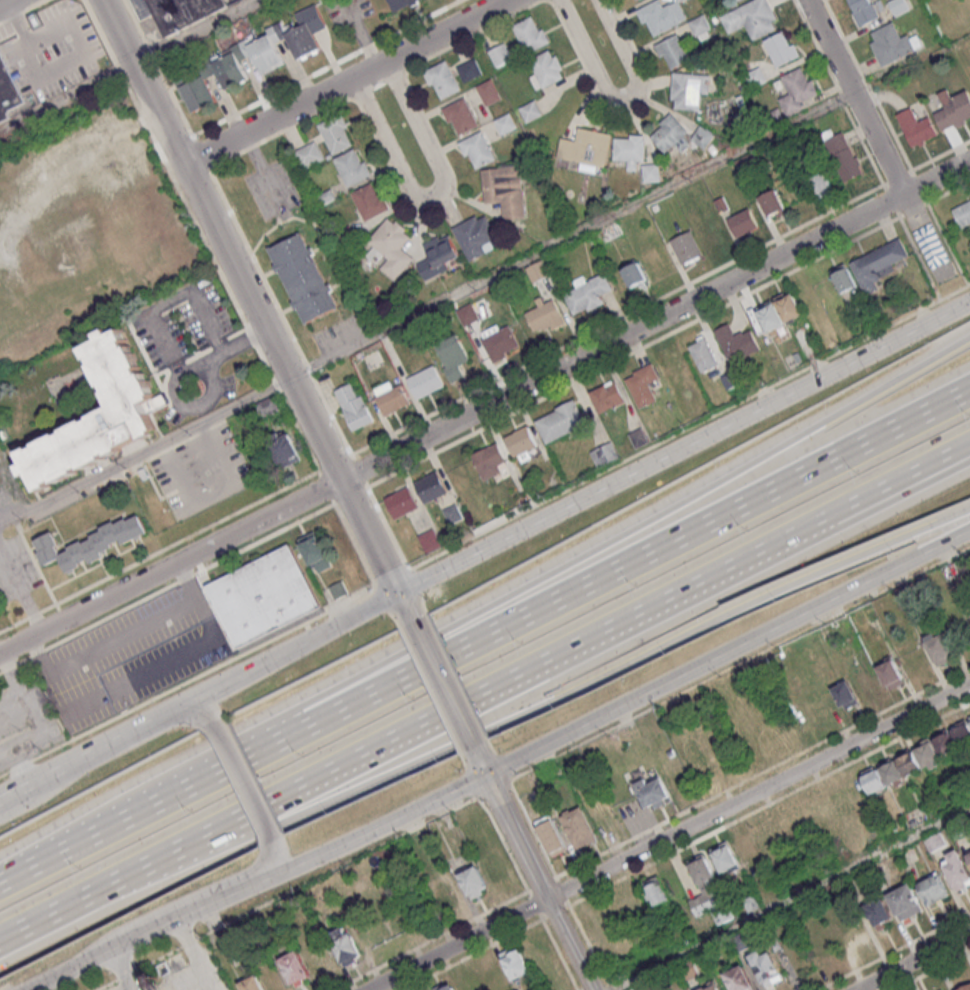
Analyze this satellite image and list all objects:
building: (735, 0)
road: (4, 2)
building: (399, 3)
building: (898, 6)
building: (862, 11)
building: (181, 12)
building: (662, 15)
building: (756, 18)
park: (952, 18)
building: (699, 26)
road: (196, 32)
building: (531, 33)
building: (892, 44)
building: (270, 47)
building: (781, 48)
building: (673, 52)
building: (502, 54)
building: (548, 67)
building: (472, 70)
building: (755, 77)
building: (444, 78)
road: (346, 82)
building: (800, 85)
building: (689, 90)
building: (197, 91)
building: (490, 92)
building: (8, 94)
road: (66, 97)
road: (622, 99)
building: (953, 109)
building: (532, 111)
road: (863, 112)
building: (463, 115)
building: (507, 123)
building: (917, 127)
building: (337, 132)
building: (670, 137)
building: (585, 147)
building: (479, 148)
building: (629, 151)
building: (308, 154)
building: (843, 156)
building: (354, 166)
road: (71, 167)
road: (261, 169)
building: (650, 173)
building: (820, 183)
building: (506, 189)
road: (434, 195)
building: (371, 201)
building: (773, 203)
building: (963, 213)
building: (744, 221)
building: (611, 231)
building: (476, 235)
building: (394, 246)
building: (687, 246)
building: (931, 246)
building: (439, 256)
building: (878, 264)
building: (537, 270)
building: (633, 274)
building: (303, 277)
building: (843, 277)
road: (229, 292)
building: (590, 293)
road: (249, 296)
road: (172, 302)
road: (426, 307)
building: (779, 311)
building: (545, 317)
parking lot: (181, 320)
building: (502, 342)
building: (736, 342)
road: (233, 345)
building: (702, 354)
building: (452, 356)
road: (204, 365)
building: (427, 381)
building: (643, 383)
road: (217, 386)
parking lot: (227, 386)
building: (608, 395)
building: (394, 399)
building: (268, 406)
building: (356, 406)
road: (484, 406)
road: (179, 407)
parking lot: (173, 415)
building: (99, 416)
building: (562, 421)
building: (638, 437)
building: (522, 440)
building: (284, 449)
building: (604, 454)
building: (489, 461)
parking lot: (201, 471)
building: (144, 473)
road: (900, 480)
road: (152, 483)
road: (900, 484)
building: (432, 486)
road: (11, 488)
road: (5, 489)
road: (573, 500)
building: (402, 501)
building: (453, 513)
building: (135, 527)
building: (123, 530)
building: (111, 532)
building: (428, 539)
building: (47, 541)
building: (102, 541)
building: (92, 549)
road: (158, 550)
street lamp: (898, 550)
building: (315, 551)
building: (79, 552)
building: (50, 554)
road: (571, 558)
building: (68, 560)
parking lot: (15, 568)
road: (39, 568)
road: (166, 586)
road: (20, 589)
building: (338, 589)
road: (192, 590)
building: (262, 595)
street lamp: (781, 600)
road: (406, 605)
road: (484, 635)
street lamp: (384, 641)
road: (103, 646)
building: (941, 647)
street lamp: (670, 653)
parking lot: (110, 654)
parking lot: (165, 662)
building: (892, 674)
road: (187, 680)
road: (446, 683)
building: (847, 695)
road: (466, 702)
road: (538, 704)
street lamp: (558, 708)
road: (620, 708)
road: (65, 709)
road: (196, 713)
road: (165, 716)
road: (12, 718)
building: (969, 718)
parking lot: (25, 721)
road: (109, 746)
building: (918, 759)
street lamp: (442, 761)
road: (48, 778)
road: (244, 780)
building: (655, 791)
road: (761, 793)
road: (15, 795)
street lamp: (331, 813)
road: (514, 823)
building: (581, 827)
building: (553, 835)
building: (746, 848)
building: (968, 855)
building: (726, 857)
road: (274, 858)
building: (497, 868)
building: (958, 869)
building: (476, 881)
building: (934, 889)
building: (711, 890)
building: (657, 891)
road: (284, 893)
building: (447, 895)
road: (792, 899)
building: (908, 901)
road: (203, 908)
road: (51, 913)
building: (881, 913)
road: (459, 944)
road: (574, 944)
building: (346, 945)
building: (321, 959)
road: (914, 961)
building: (517, 962)
road: (85, 963)
building: (768, 967)
building: (296, 968)
building: (741, 979)
building: (264, 981)
building: (450, 987)
building: (711, 987)
building: (966, 988)
building: (945, 989)

